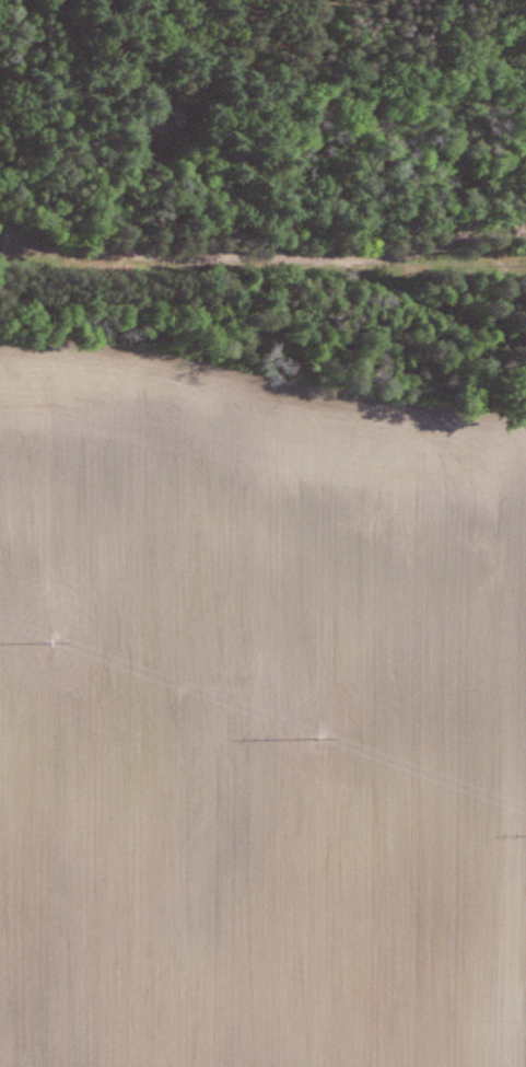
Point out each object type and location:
road: (262, 259)

